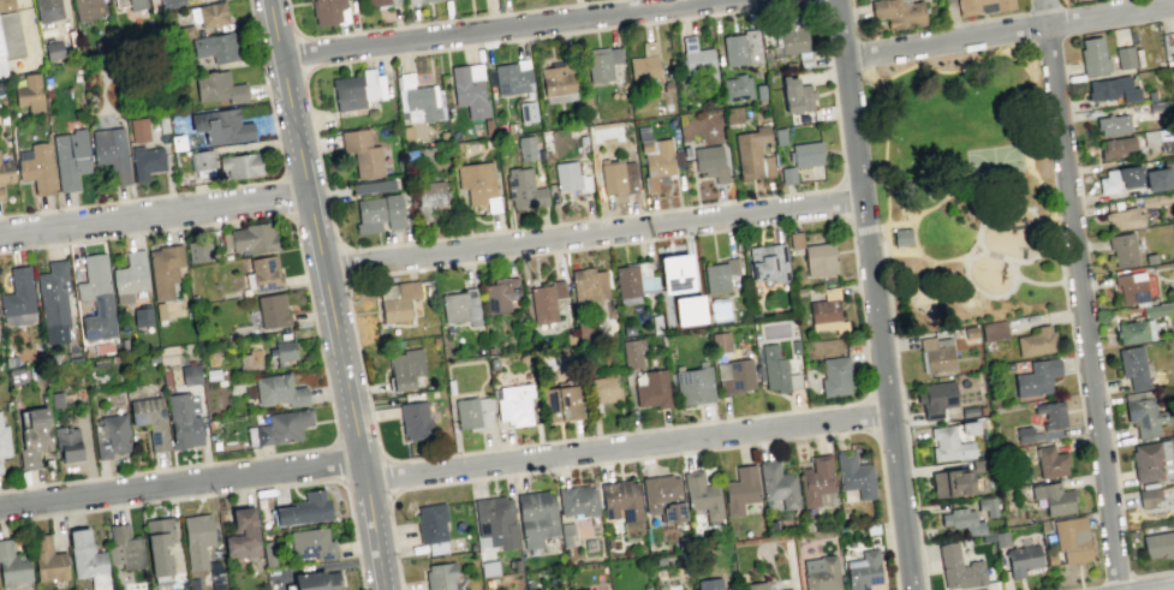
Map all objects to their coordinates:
building: (418, 1)
building: (375, 2)
road: (815, 2)
building: (135, 4)
building: (169, 4)
building: (979, 7)
building: (85, 8)
building: (47, 11)
building: (329, 11)
building: (895, 13)
building: (208, 14)
road: (433, 22)
road: (502, 28)
building: (185, 31)
road: (1008, 31)
building: (792, 32)
building: (10, 37)
building: (215, 47)
building: (648, 48)
building: (740, 48)
building: (52, 49)
building: (0, 52)
road: (298, 53)
building: (614, 55)
building: (1092, 56)
building: (1124, 56)
building: (697, 60)
building: (597, 64)
building: (642, 67)
road: (895, 72)
road: (847, 73)
road: (870, 76)
building: (512, 77)
building: (558, 77)
building: (217, 87)
building: (735, 87)
building: (1110, 88)
building: (357, 89)
building: (29, 93)
building: (467, 93)
building: (794, 94)
building: (1150, 95)
building: (419, 101)
building: (526, 111)
building: (732, 114)
building: (1112, 124)
building: (220, 126)
building: (138, 130)
building: (406, 133)
building: (779, 136)
building: (1150, 137)
building: (177, 142)
building: (1115, 145)
building: (525, 148)
building: (362, 151)
building: (111, 153)
building: (752, 153)
building: (805, 154)
building: (68, 157)
building: (145, 161)
building: (655, 161)
building: (709, 161)
building: (201, 162)
building: (1166, 162)
building: (240, 165)
park: (994, 166)
building: (36, 169)
building: (5, 174)
building: (616, 175)
building: (787, 175)
building: (1128, 175)
building: (570, 177)
road: (840, 178)
building: (1156, 178)
building: (1108, 180)
building: (477, 184)
road: (230, 186)
building: (370, 186)
building: (523, 189)
park: (961, 191)
building: (429, 192)
road: (286, 193)
building: (1154, 198)
building: (377, 213)
road: (919, 214)
road: (154, 215)
building: (1124, 217)
road: (1036, 220)
road: (872, 227)
road: (591, 236)
road: (916, 236)
building: (901, 237)
building: (252, 238)
building: (794, 239)
building: (1122, 249)
building: (197, 251)
building: (1150, 257)
building: (818, 258)
road: (931, 260)
building: (768, 262)
road: (1008, 262)
building: (732, 264)
road: (346, 266)
building: (163, 269)
building: (677, 272)
building: (264, 273)
building: (130, 275)
building: (715, 276)
building: (633, 279)
building: (588, 284)
road: (975, 287)
building: (556, 288)
building: (1131, 288)
building: (17, 293)
building: (499, 293)
road: (328, 294)
road: (871, 294)
road: (1080, 294)
building: (95, 298)
building: (397, 299)
building: (53, 302)
building: (542, 303)
building: (460, 306)
building: (1157, 309)
building: (159, 310)
building: (272, 310)
building: (687, 310)
building: (827, 312)
building: (142, 315)
building: (1173, 315)
building: (1134, 330)
building: (970, 332)
building: (994, 332)
building: (719, 340)
building: (1036, 341)
building: (87, 350)
building: (281, 351)
road: (320, 351)
building: (631, 352)
building: (935, 354)
building: (50, 358)
building: (249, 359)
building: (1008, 365)
building: (771, 366)
building: (1132, 366)
building: (405, 368)
building: (16, 375)
building: (189, 375)
building: (733, 375)
building: (834, 375)
building: (1036, 376)
building: (693, 385)
building: (601, 388)
building: (278, 389)
building: (652, 389)
building: (935, 398)
building: (55, 399)
building: (560, 403)
building: (513, 404)
building: (594, 407)
road: (902, 409)
building: (466, 412)
building: (969, 412)
building: (1050, 413)
building: (1144, 416)
building: (150, 419)
building: (413, 419)
building: (181, 421)
road: (680, 424)
building: (282, 427)
building: (969, 428)
building: (1023, 434)
building: (32, 435)
building: (109, 435)
building: (4, 441)
building: (66, 443)
building: (948, 445)
road: (627, 447)
road: (662, 454)
building: (1145, 460)
building: (1049, 461)
road: (340, 463)
building: (977, 465)
building: (0, 470)
building: (853, 473)
road: (385, 477)
building: (815, 479)
building: (953, 482)
road: (181, 483)
building: (777, 483)
building: (739, 489)
building: (1173, 491)
road: (226, 493)
building: (701, 494)
building: (662, 496)
building: (1148, 496)
building: (1054, 497)
building: (577, 500)
building: (620, 500)
building: (987, 506)
building: (303, 508)
building: (535, 517)
building: (495, 520)
building: (963, 520)
building: (430, 523)
building: (770, 526)
building: (870, 528)
building: (565, 532)
building: (242, 535)
building: (987, 536)
building: (196, 538)
building: (1000, 538)
building: (1071, 538)
building: (608, 542)
building: (309, 543)
building: (157, 544)
building: (1158, 544)
building: (124, 547)
building: (267, 553)
building: (1050, 558)
building: (47, 559)
building: (87, 559)
building: (1021, 559)
building: (658, 560)
building: (12, 565)
building: (514, 565)
building: (488, 567)
building: (958, 568)
building: (862, 571)
building: (820, 573)
building: (215, 574)
building: (440, 576)
building: (316, 580)
building: (193, 583)
building: (709, 584)
building: (528, 585)
building: (755, 585)
road: (1162, 588)
building: (582, 589)
building: (786, 589)

